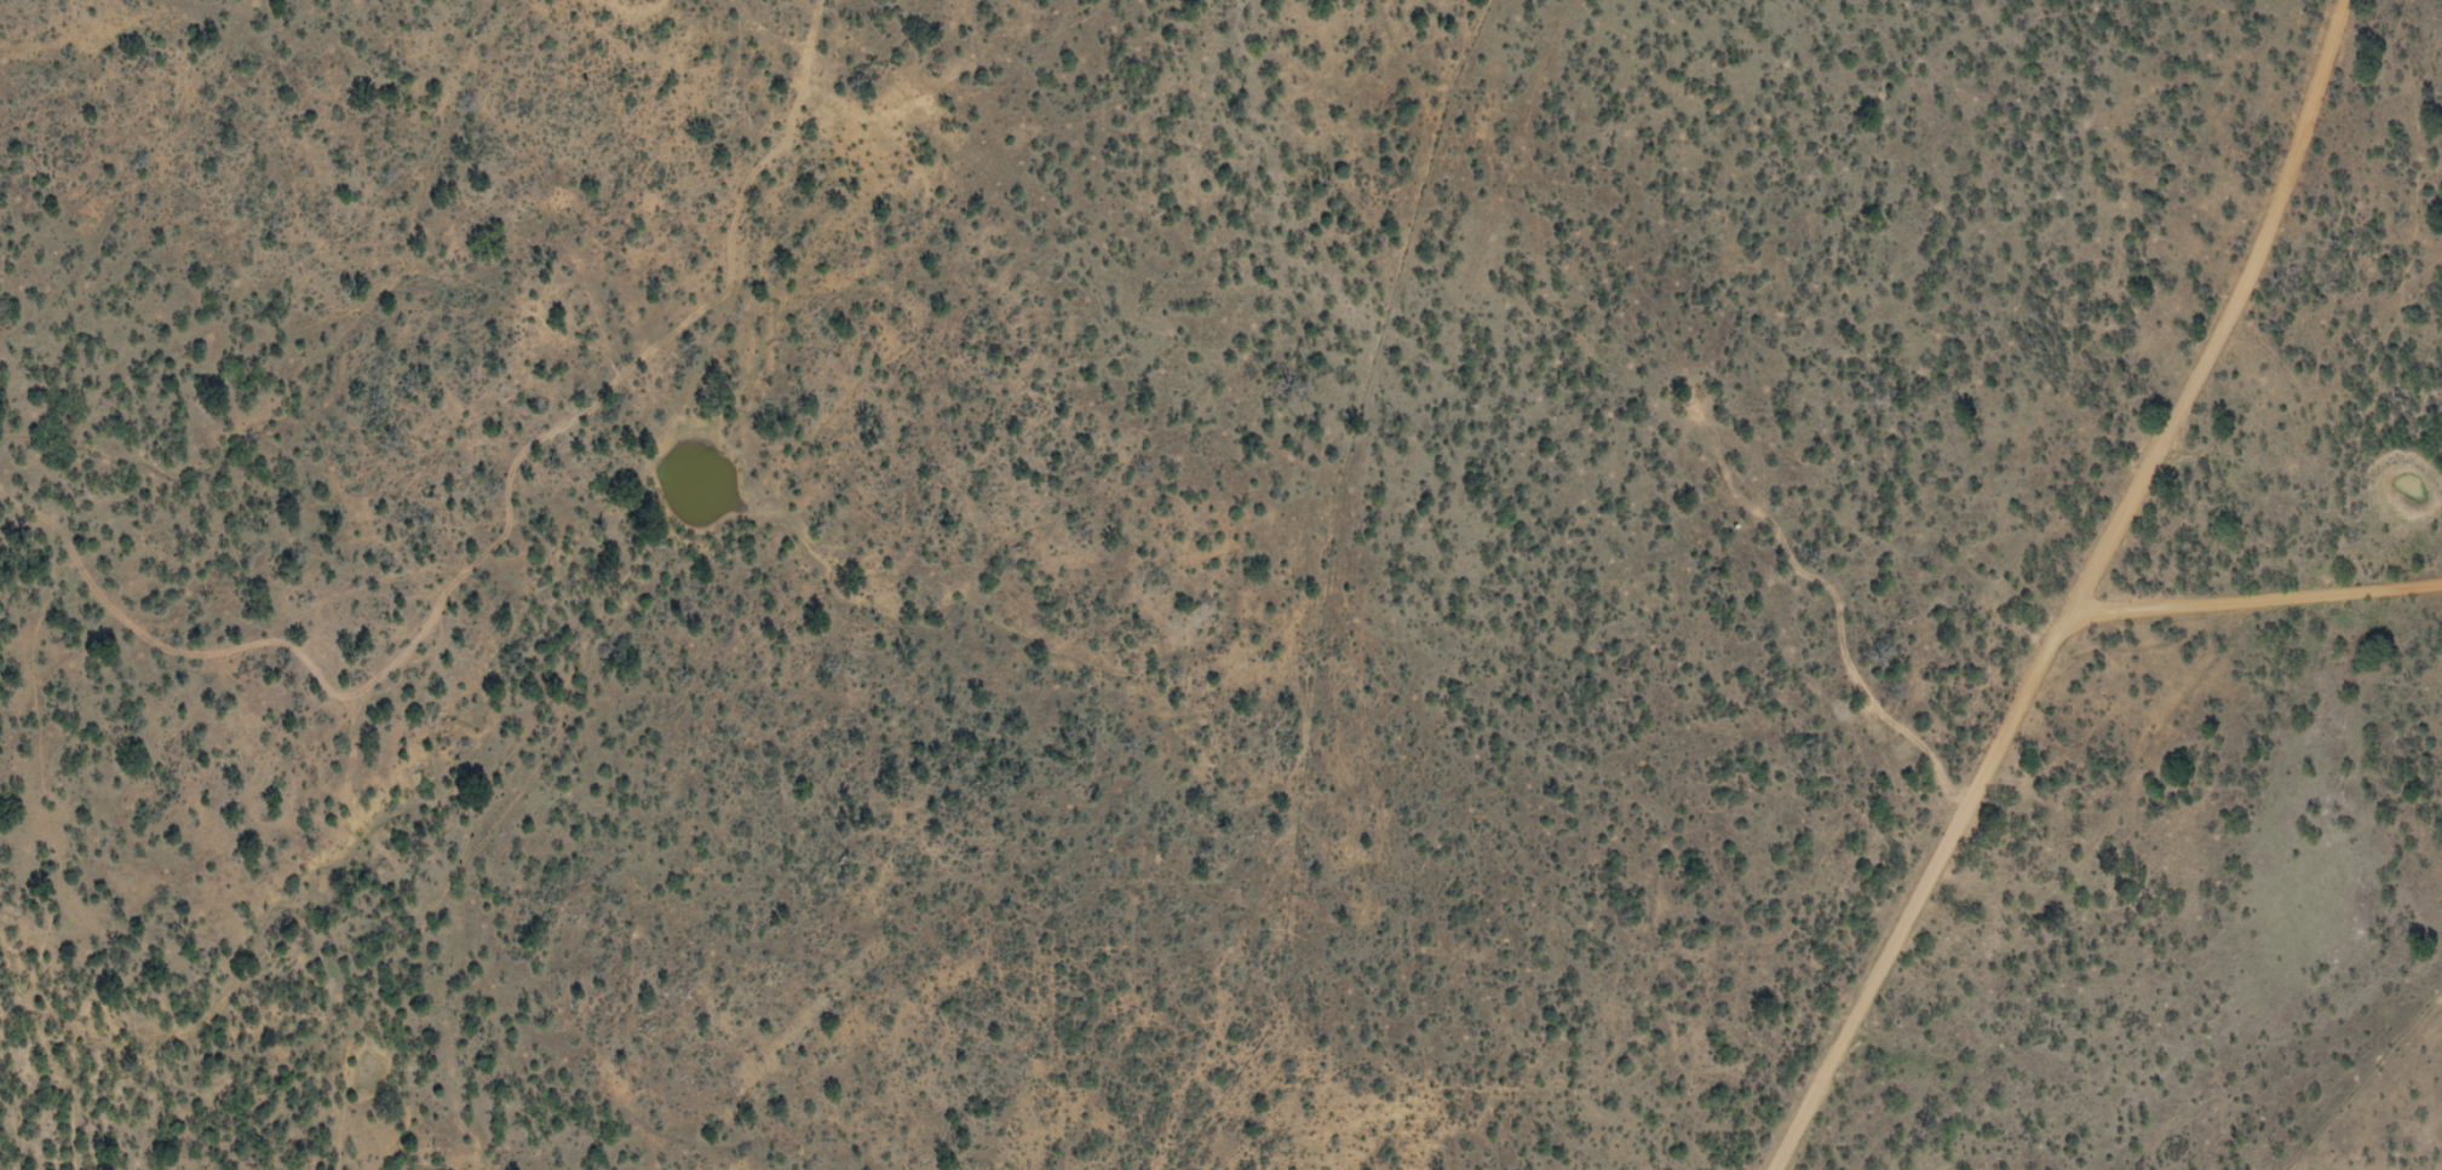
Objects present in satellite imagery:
road: (2088, 594)
road: (2257, 605)

